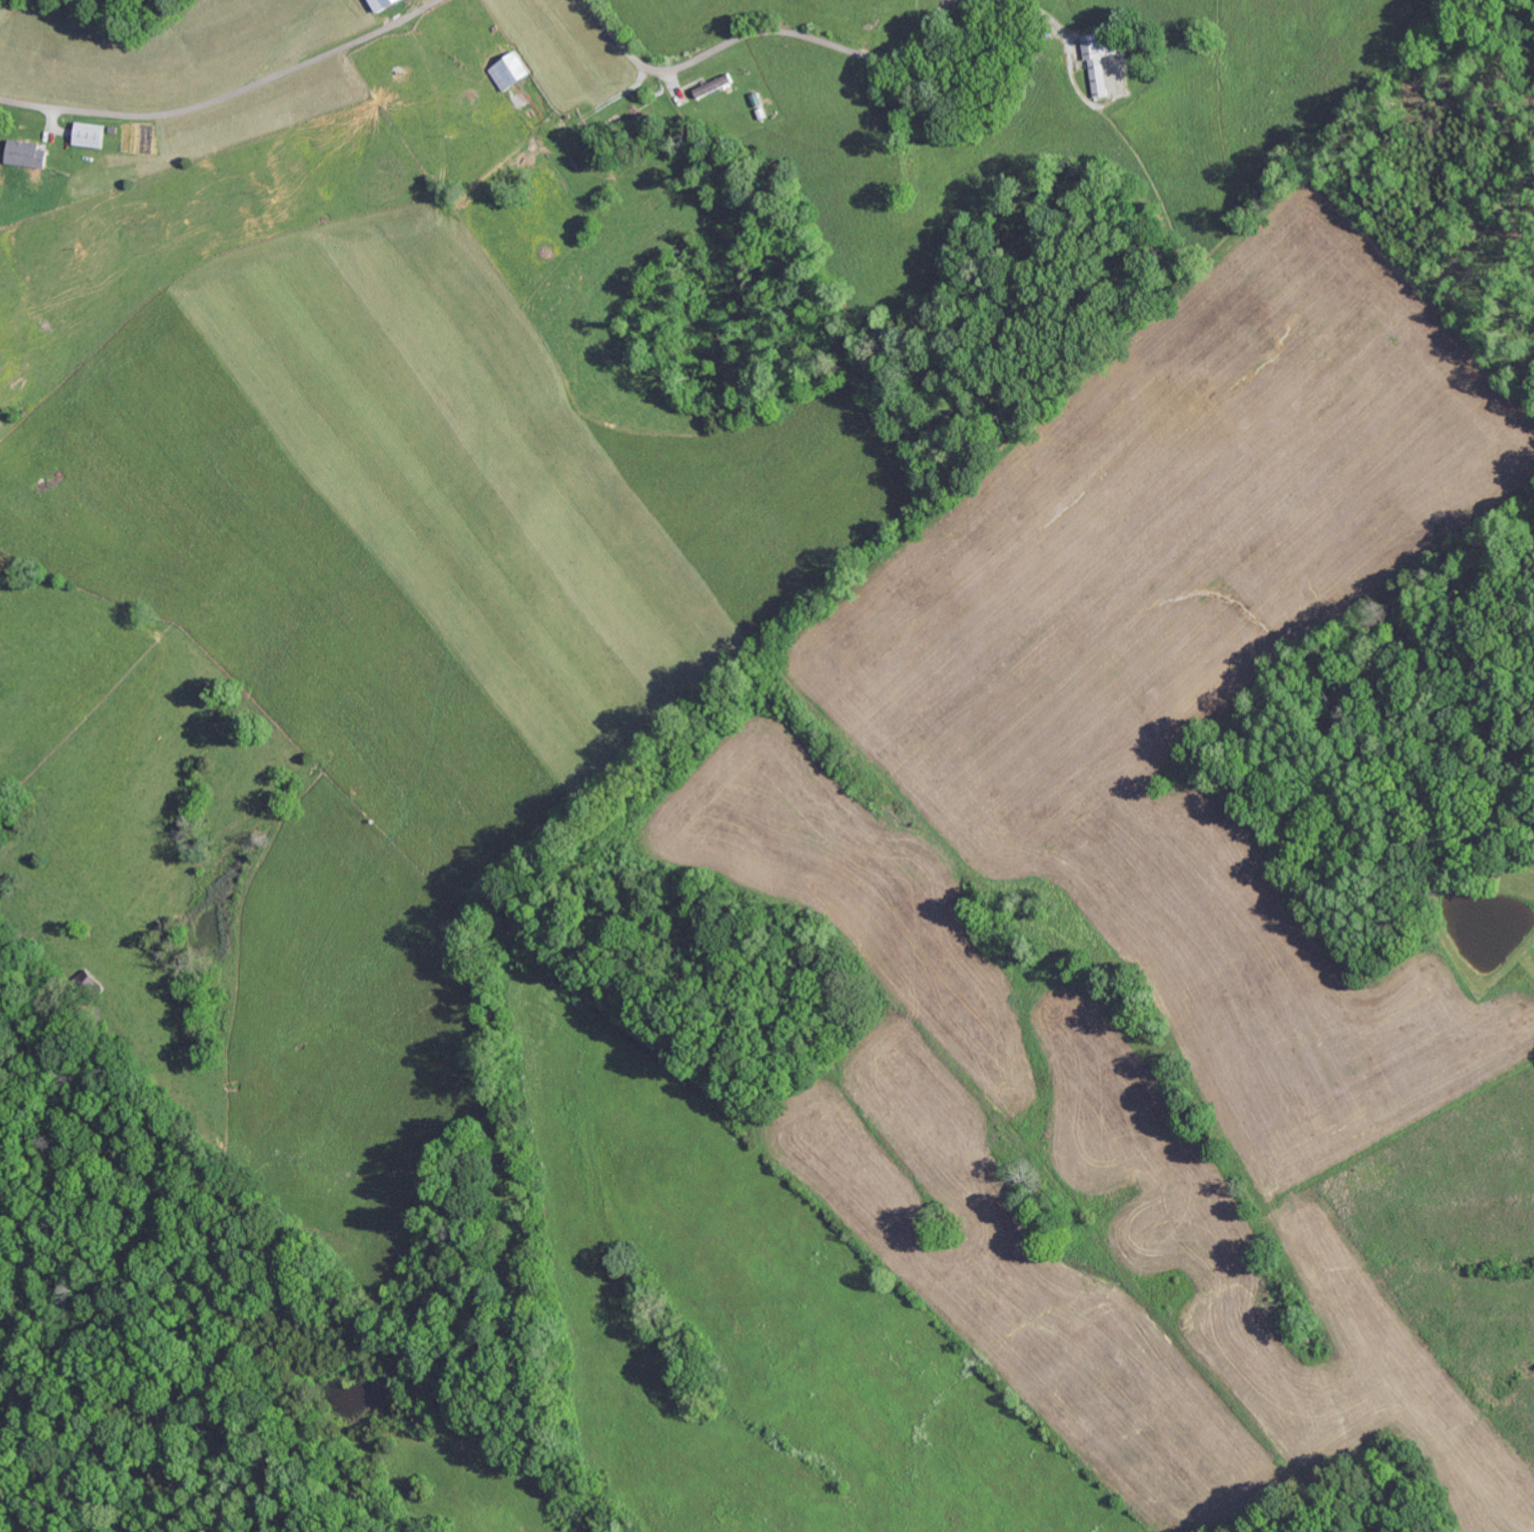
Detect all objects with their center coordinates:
building: (384, 3)
road: (762, 33)
building: (1100, 60)
building: (511, 71)
road: (225, 96)
building: (93, 134)
building: (29, 153)
road: (1159, 1334)

